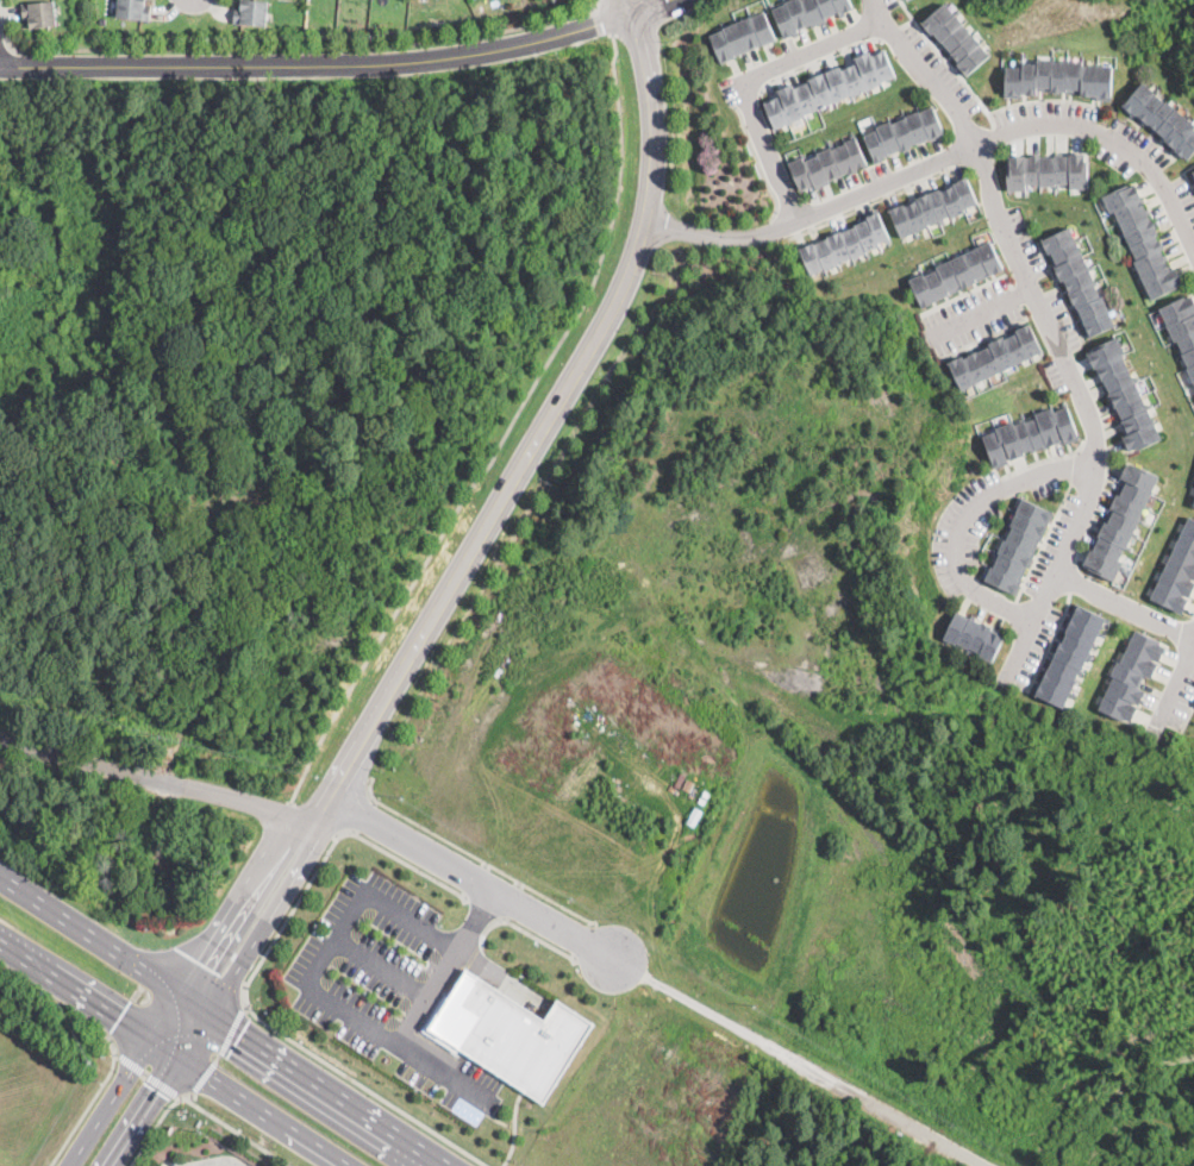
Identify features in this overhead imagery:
road: (661, 7)
road: (634, 8)
building: (132, 10)
building: (251, 12)
building: (806, 12)
building: (39, 13)
road: (605, 19)
building: (742, 35)
building: (957, 37)
road: (6, 45)
road: (306, 48)
road: (321, 71)
building: (1059, 77)
road: (749, 83)
building: (829, 87)
building: (1163, 118)
building: (904, 132)
road: (942, 156)
building: (829, 163)
building: (1048, 170)
building: (1193, 170)
building: (1193, 174)
building: (932, 206)
building: (1143, 238)
building: (844, 243)
building: (77, 250)
building: (955, 272)
building: (1079, 281)
road: (982, 313)
building: (1182, 325)
road: (1049, 327)
building: (995, 356)
building: (1125, 394)
road: (507, 433)
road: (540, 433)
building: (1030, 434)
building: (1193, 503)
building: (1121, 521)
road: (969, 526)
building: (1017, 544)
building: (1177, 571)
road: (1124, 603)
building: (231, 627)
building: (974, 634)
building: (1070, 653)
building: (1131, 675)
road: (1175, 687)
road: (157, 775)
road: (302, 809)
road: (362, 815)
road: (324, 827)
road: (475, 854)
road: (402, 860)
road: (475, 879)
road: (239, 896)
road: (508, 898)
road: (481, 908)
road: (269, 917)
road: (286, 919)
road: (477, 922)
road: (519, 927)
road: (336, 939)
road: (583, 939)
traffic signals: (201, 961)
road: (202, 967)
road: (383, 968)
road: (654, 980)
parking lot: (388, 984)
road: (136, 990)
road: (244, 1003)
road: (61, 1005)
traffic signals: (117, 1016)
road: (221, 1023)
building: (507, 1032)
road: (190, 1034)
traffic signals: (239, 1034)
road: (173, 1054)
road: (219, 1054)
road: (149, 1076)
road: (123, 1078)
road: (362, 1085)
traffic signals: (155, 1087)
road: (1111, 1095)
road: (515, 1099)
road: (87, 1110)
road: (139, 1110)
road: (154, 1127)
road: (238, 1130)
parking lot: (167, 1162)

